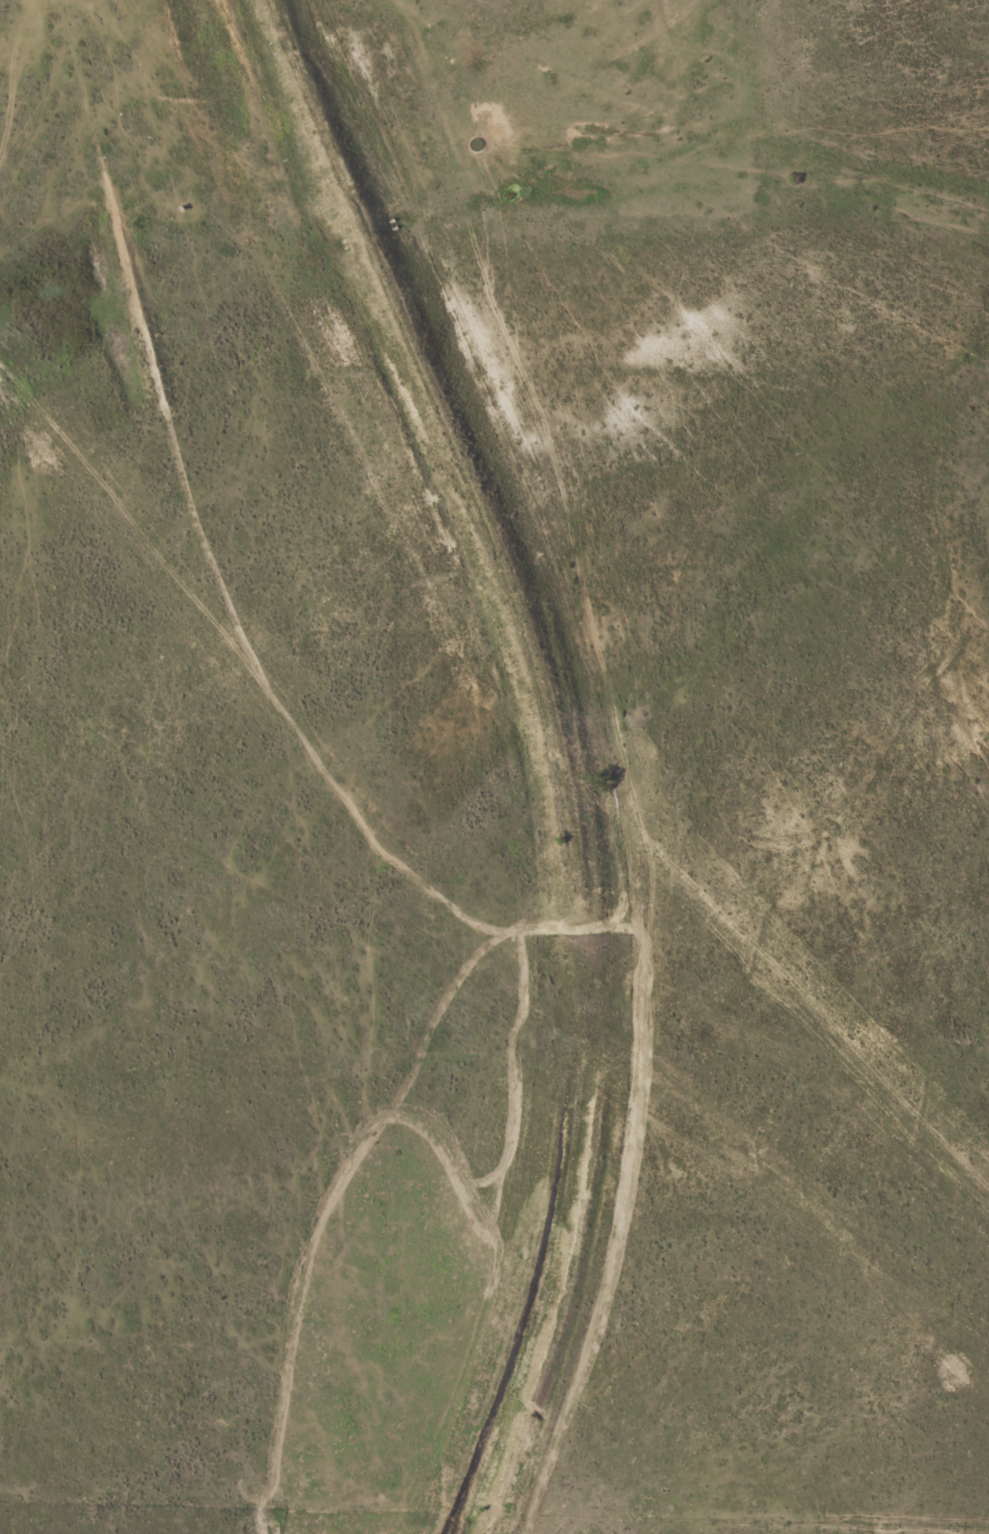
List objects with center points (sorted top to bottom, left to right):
railway: (560, 749)

